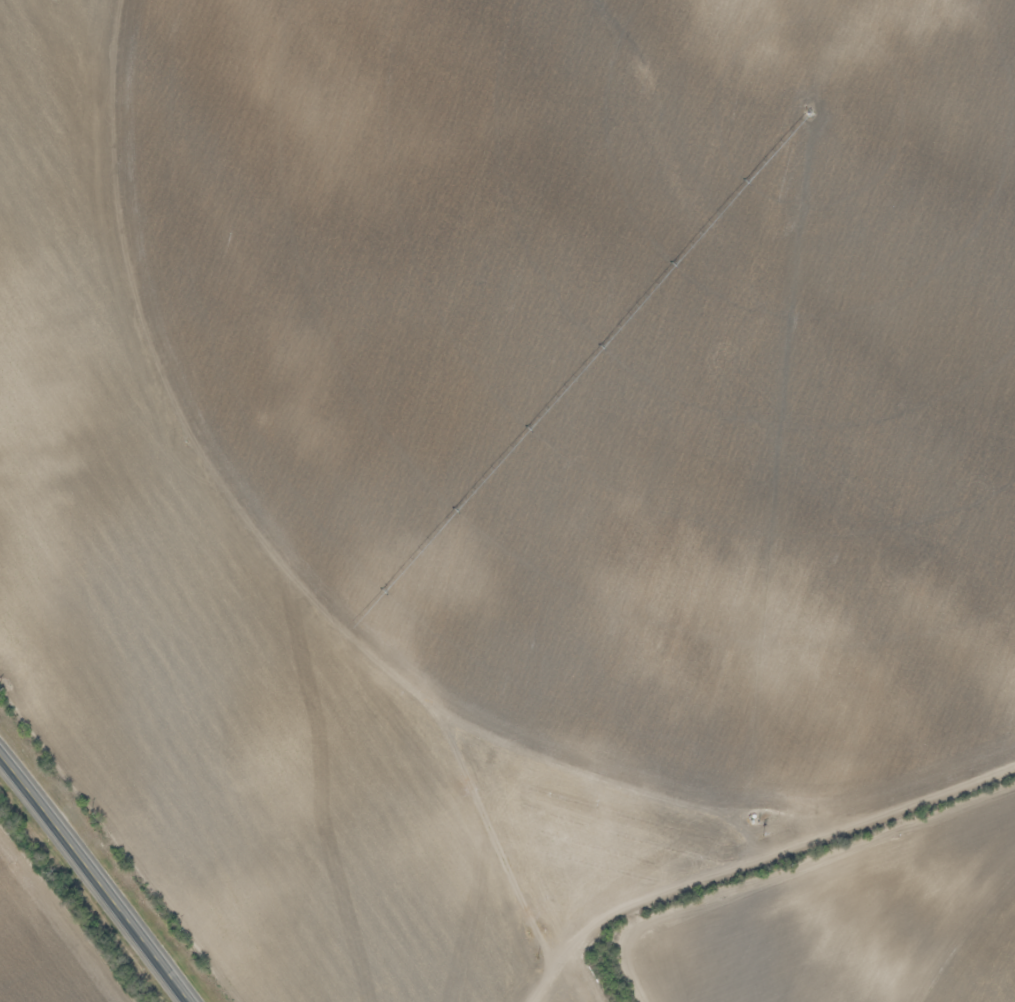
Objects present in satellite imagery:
railway: (124, 843)
road: (95, 878)

